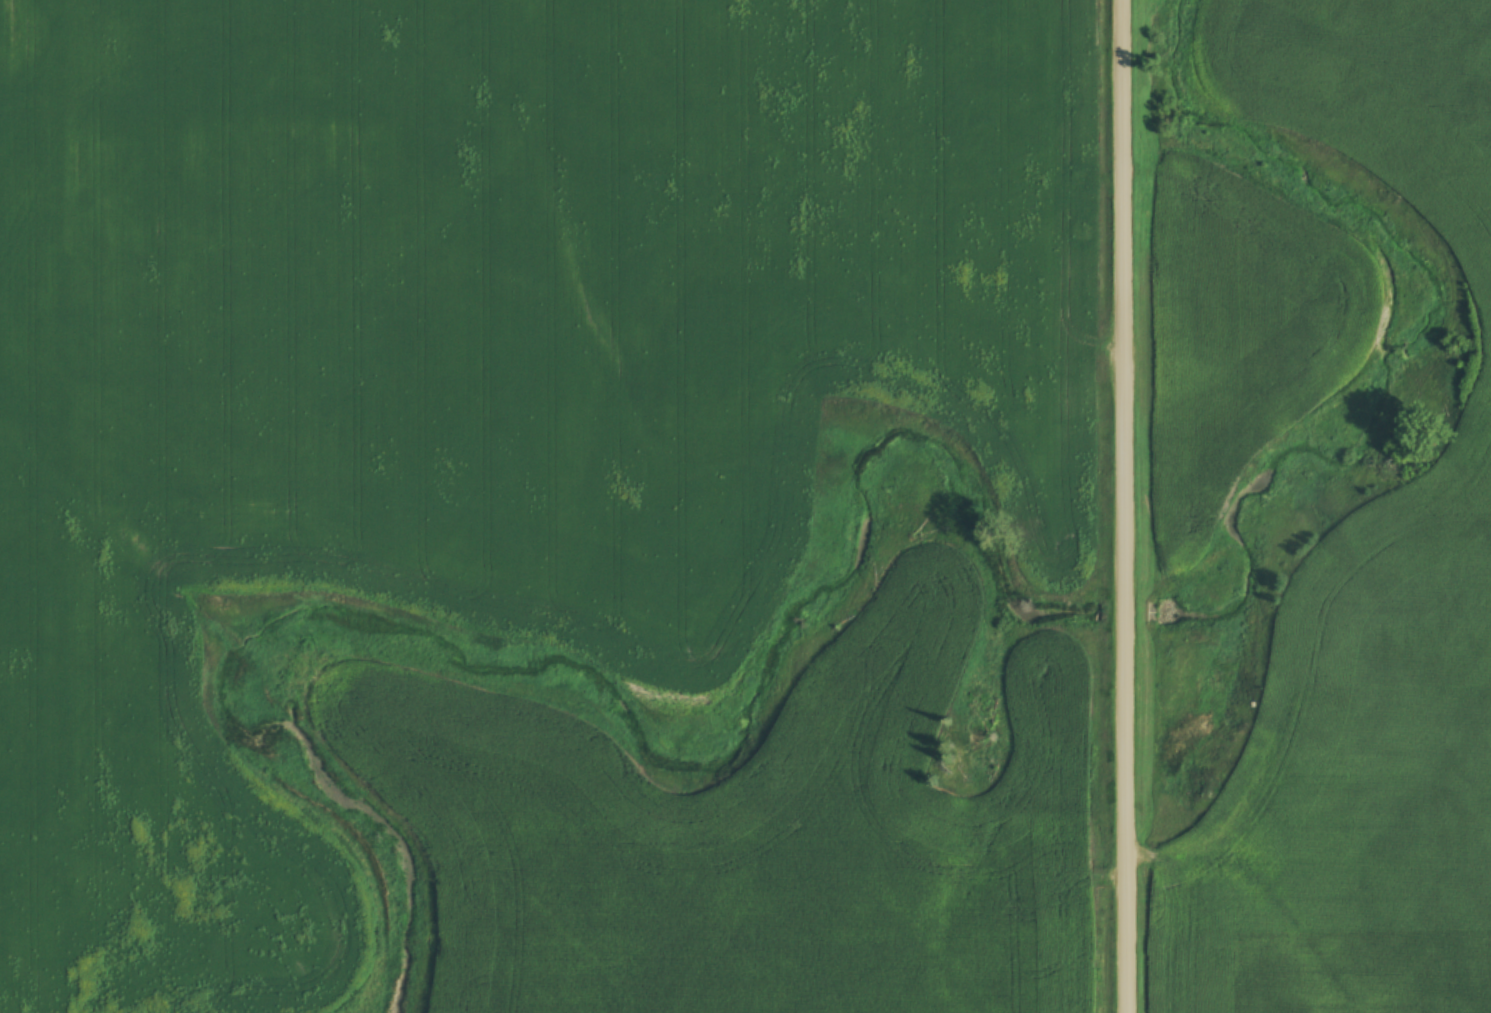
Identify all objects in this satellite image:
road: (1126, 506)

